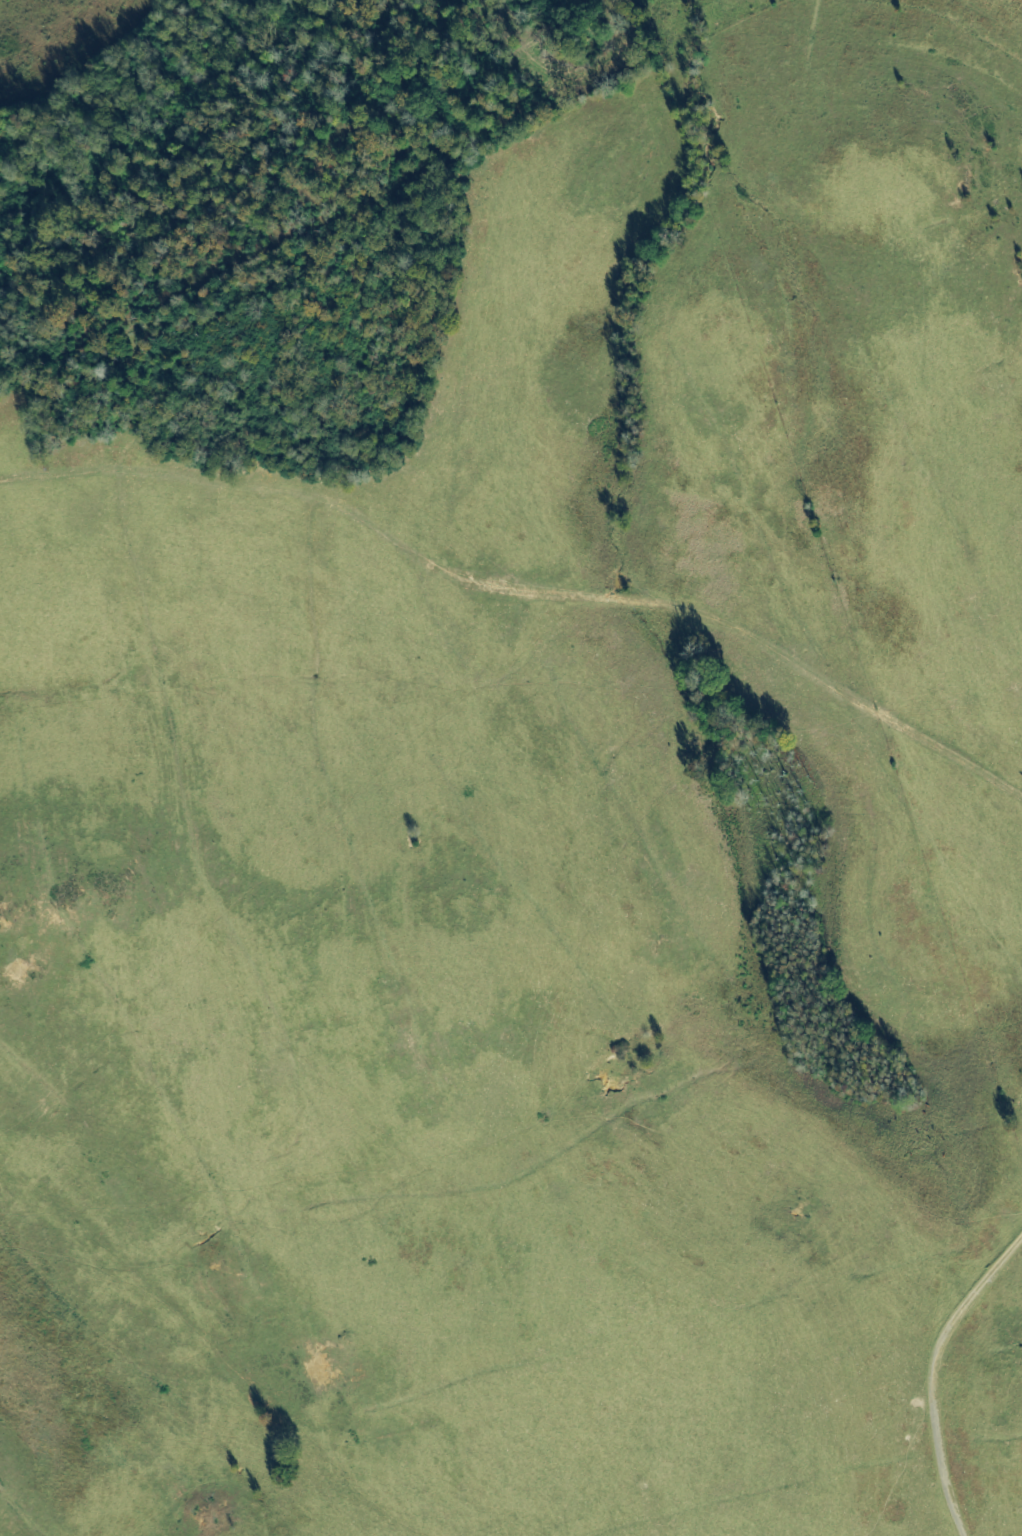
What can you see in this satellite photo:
road: (637, 2)
road: (1007, 8)
road: (95, 64)
road: (520, 589)
road: (929, 1370)

